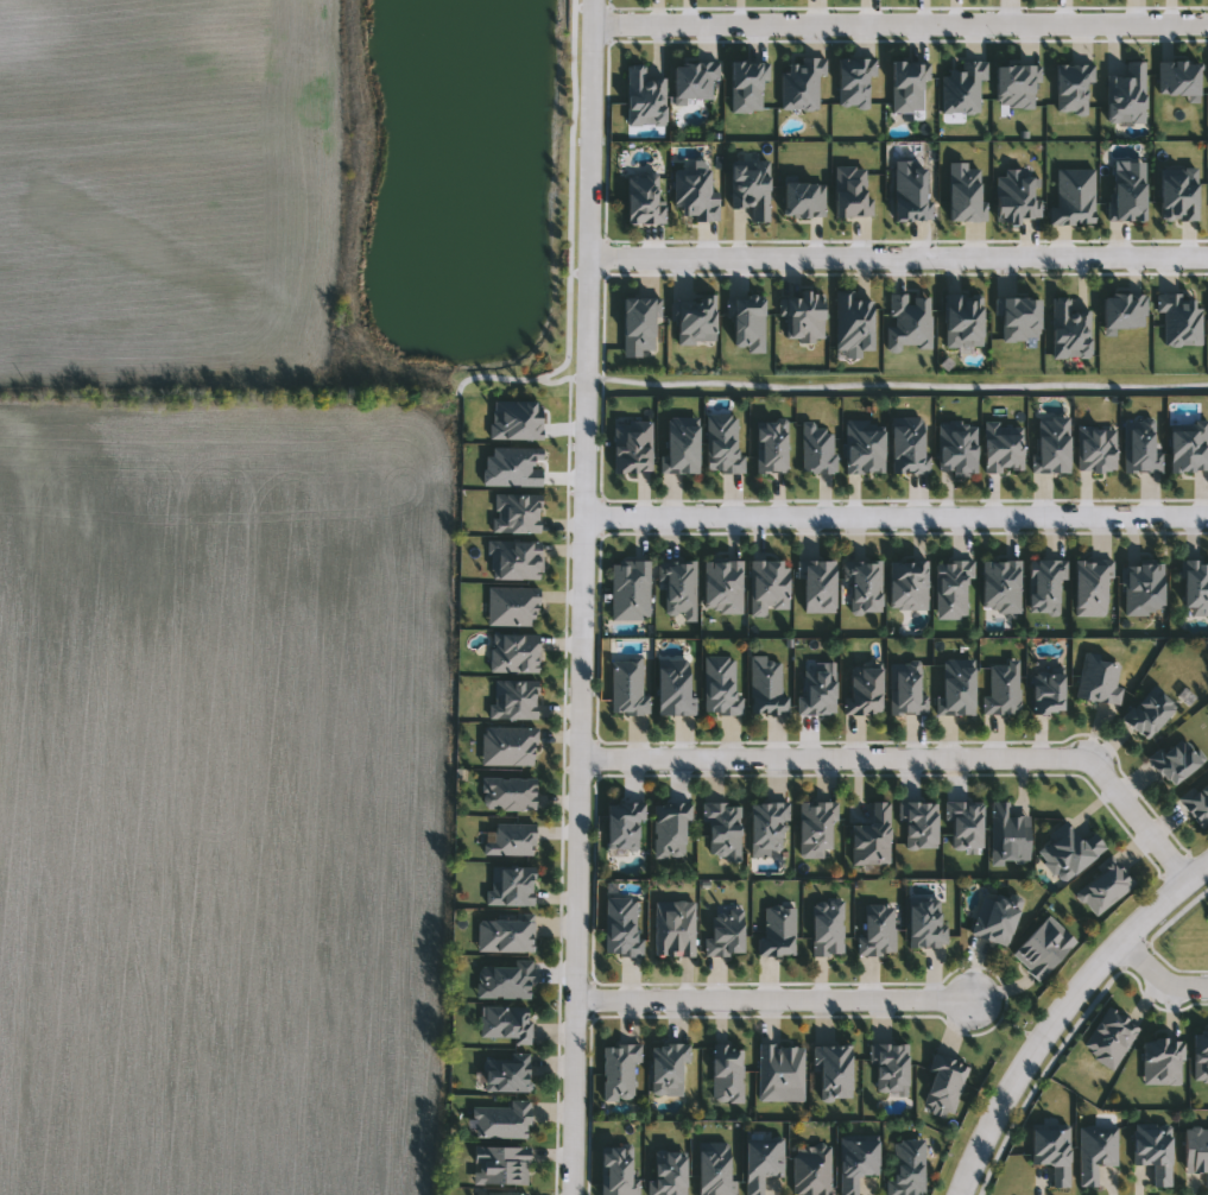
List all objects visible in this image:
road: (900, 25)
road: (568, 241)
road: (899, 258)
road: (584, 378)
road: (556, 380)
road: (902, 384)
road: (897, 517)
building: (677, 586)
building: (1143, 589)
road: (583, 596)
building: (1098, 679)
building: (626, 685)
building: (720, 685)
building: (765, 687)
building: (957, 687)
building: (673, 688)
building: (905, 689)
building: (864, 690)
building: (1001, 690)
building: (816, 693)
building: (1048, 693)
building: (1149, 712)
road: (911, 758)
building: (1175, 760)
building: (508, 793)
building: (918, 823)
building: (964, 823)
building: (766, 824)
building: (624, 826)
building: (722, 827)
building: (669, 828)
building: (815, 828)
building: (1007, 835)
building: (872, 837)
building: (1069, 851)
building: (1103, 889)
building: (997, 918)
building: (925, 922)
building: (620, 925)
building: (827, 927)
building: (673, 928)
building: (776, 929)
building: (877, 930)
building: (725, 932)
building: (504, 935)
building: (1043, 947)
road: (1159, 979)
building: (502, 981)
road: (772, 1000)
road: (1060, 1011)
building: (505, 1024)
building: (888, 1067)
building: (668, 1069)
building: (833, 1070)
building: (779, 1071)
building: (619, 1073)
building: (506, 1074)
building: (726, 1074)
building: (943, 1083)
building: (501, 1120)
building: (1051, 1150)
building: (1095, 1151)
building: (1153, 1151)
building: (1196, 1151)
building: (856, 1159)
building: (760, 1162)
building: (499, 1165)
building: (906, 1166)
building: (810, 1171)
building: (666, 1172)

